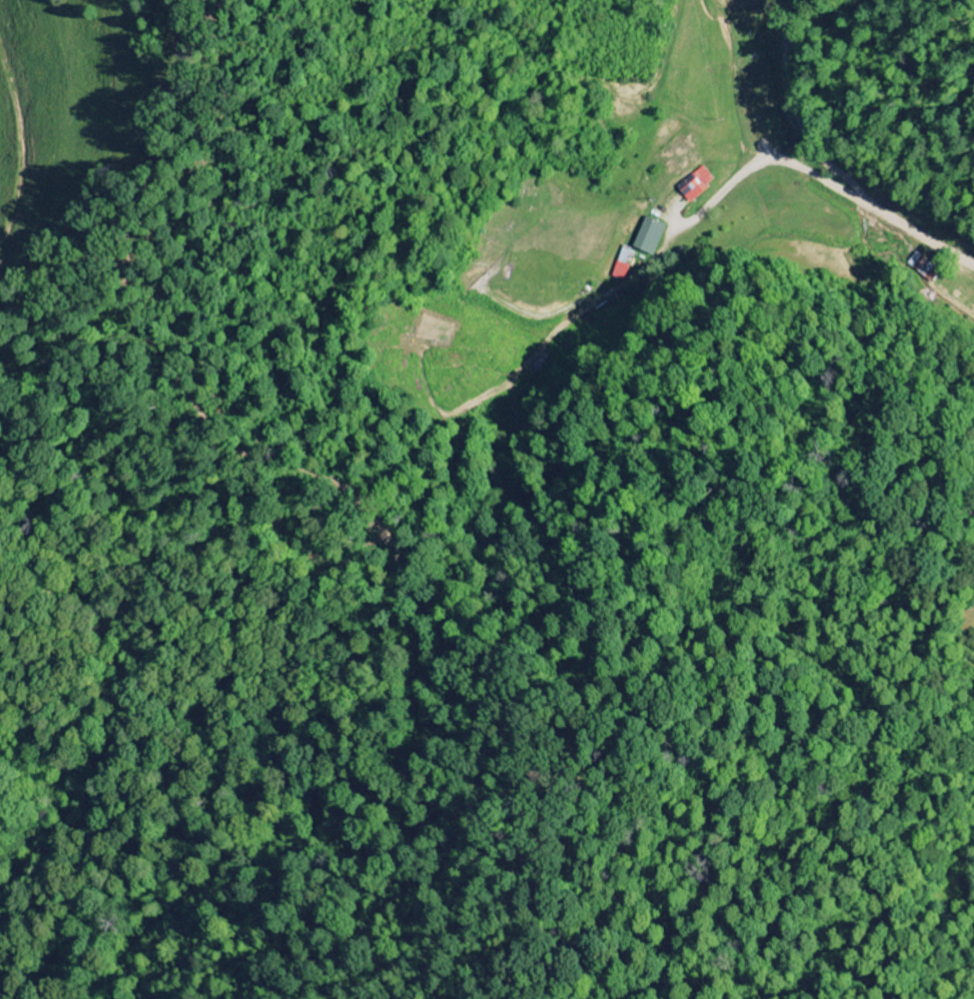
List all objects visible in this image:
building: (695, 185)
building: (648, 236)
building: (916, 262)
building: (620, 265)

